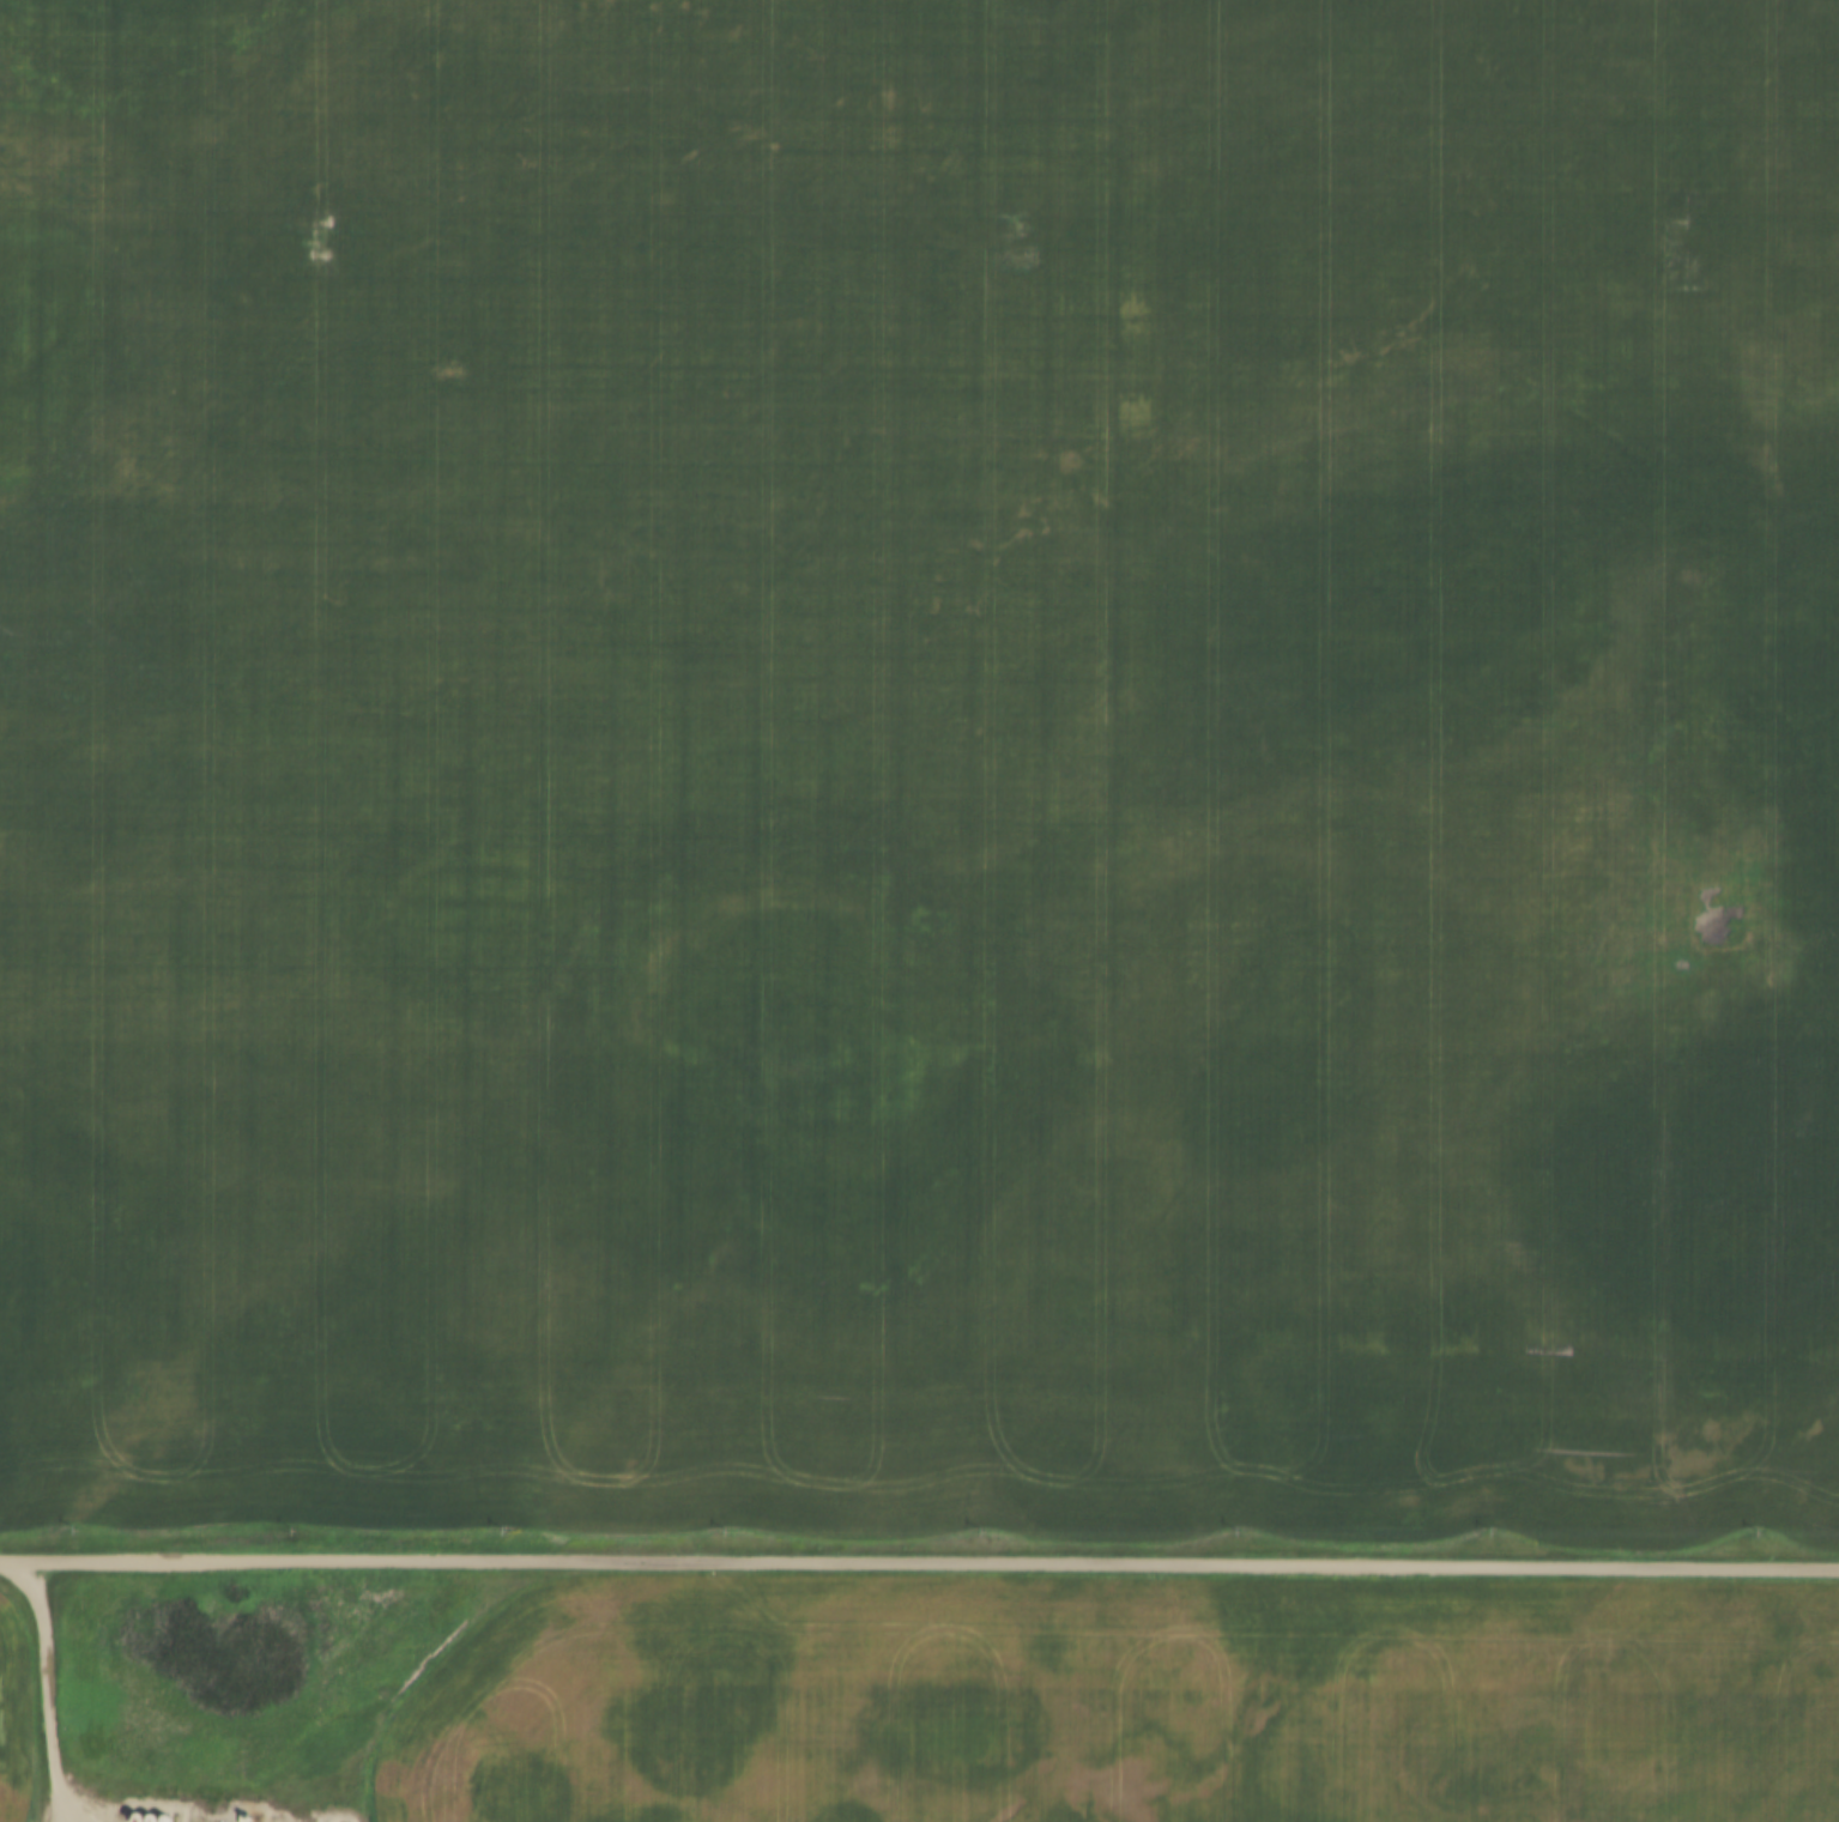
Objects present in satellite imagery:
road: (925, 1551)
road: (5, 1555)
road: (50, 1684)

